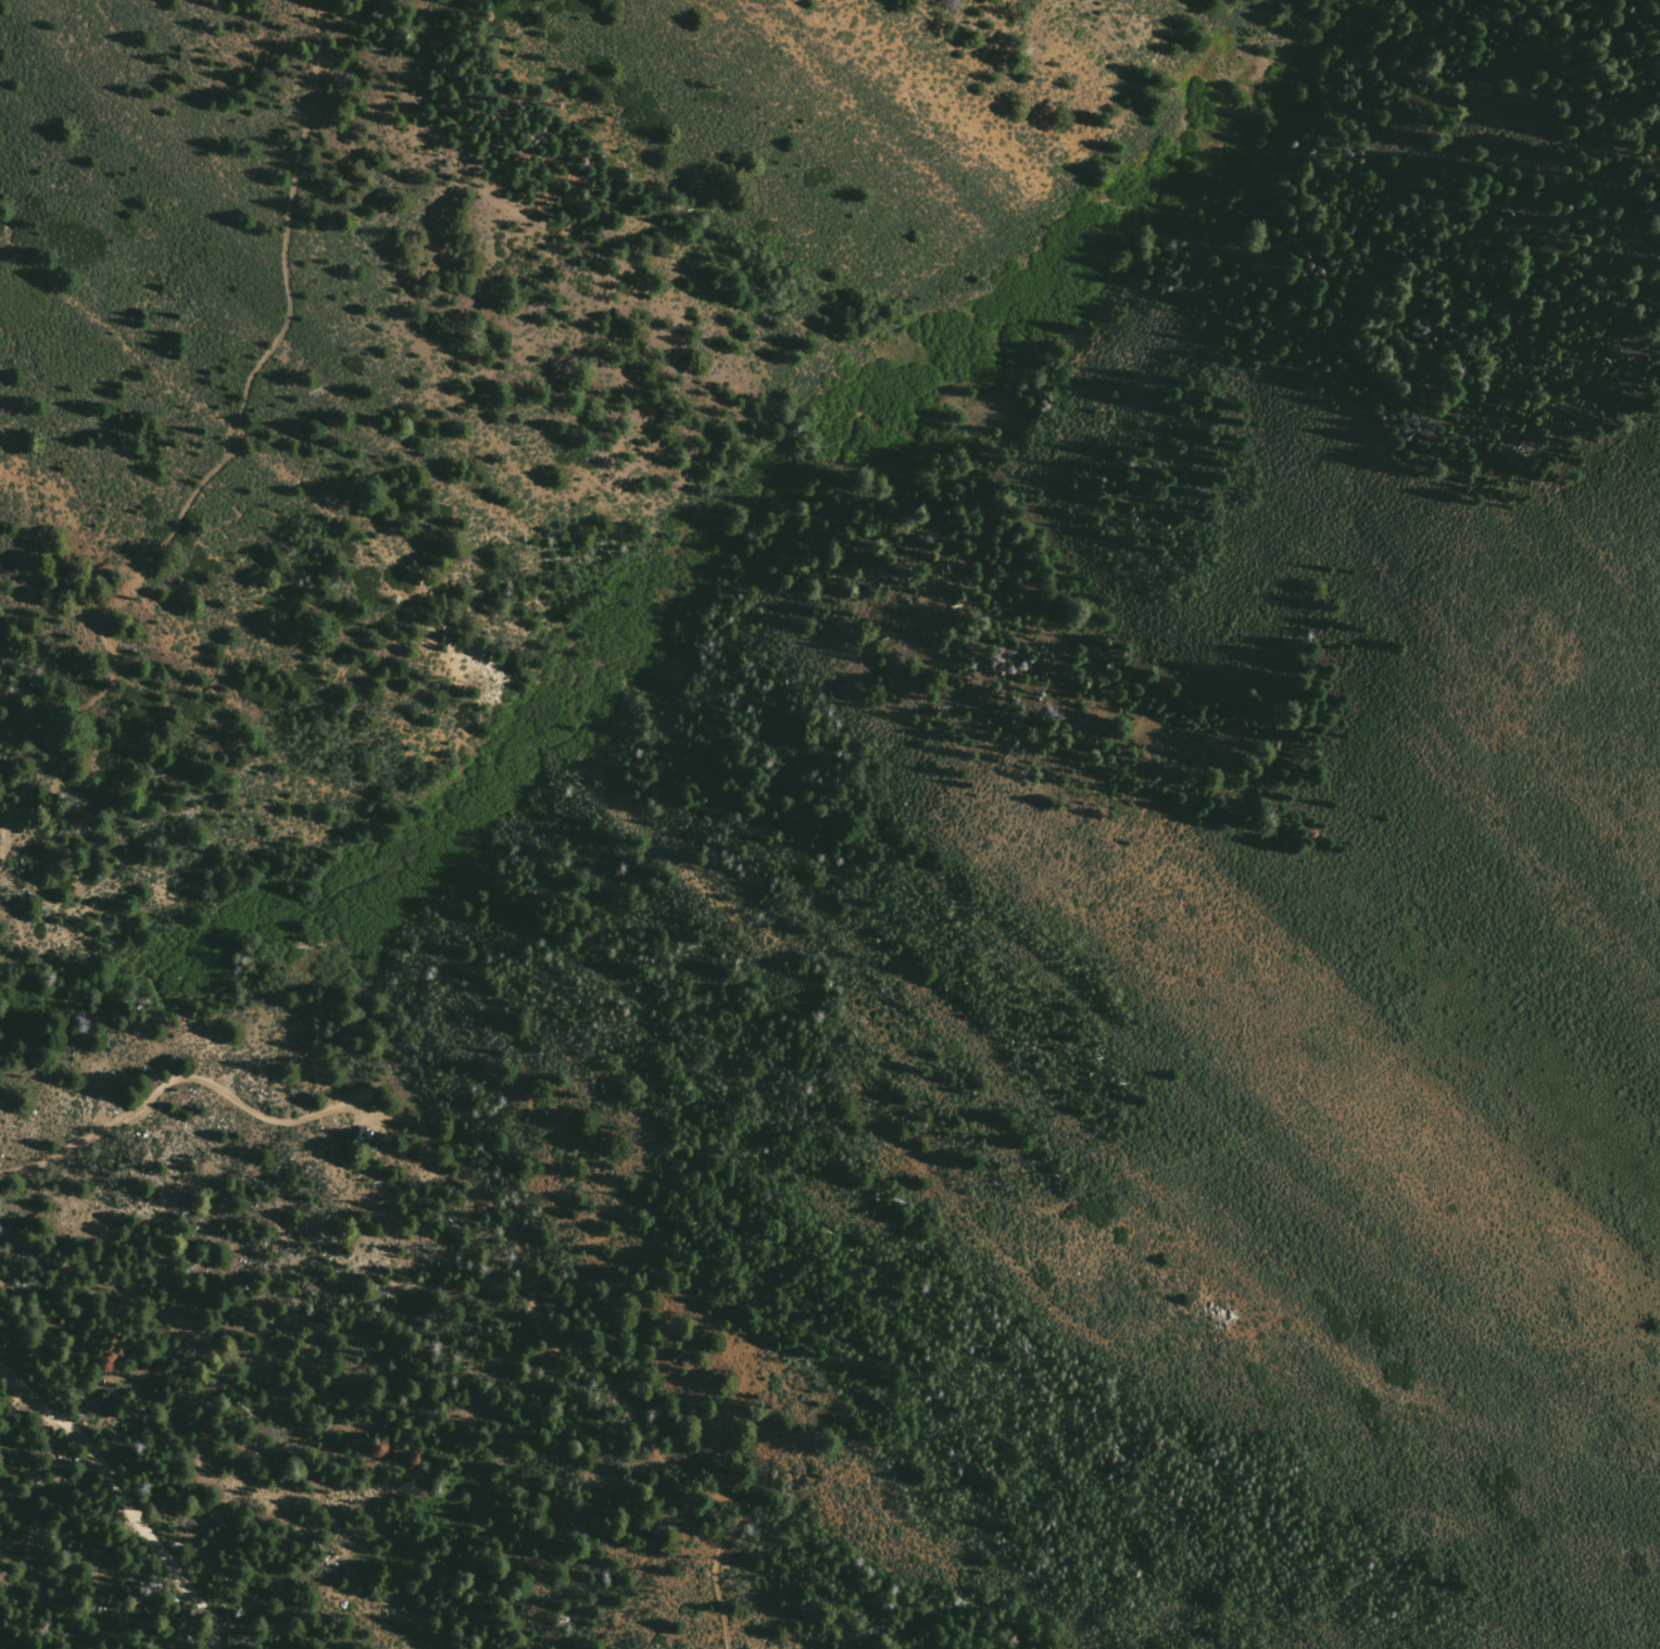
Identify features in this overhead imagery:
road: (221, 460)
building: (356, 1137)
road: (489, 1197)
road: (121, 1496)

